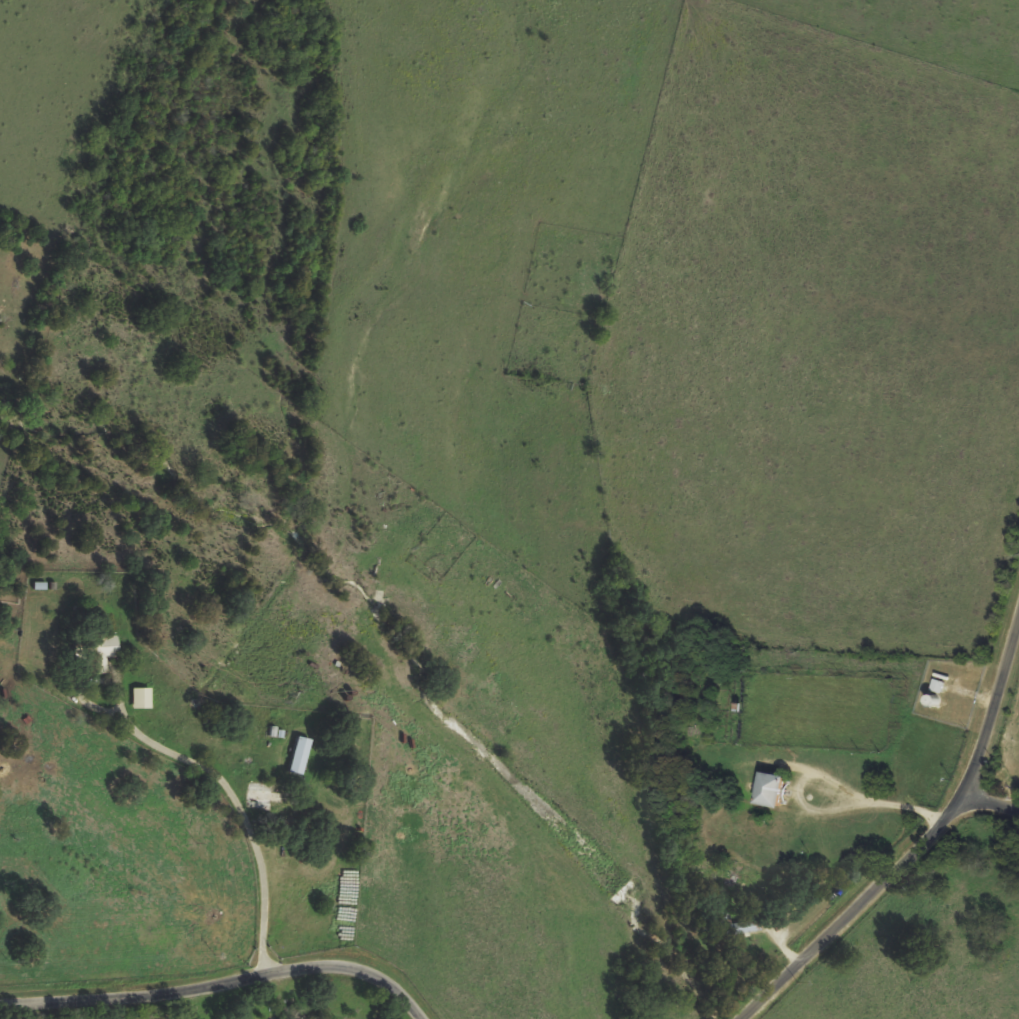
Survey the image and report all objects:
building: (107, 647)
building: (140, 697)
building: (300, 755)
building: (764, 789)
road: (233, 799)
road: (990, 805)
road: (921, 843)
building: (741, 926)
road: (217, 985)

